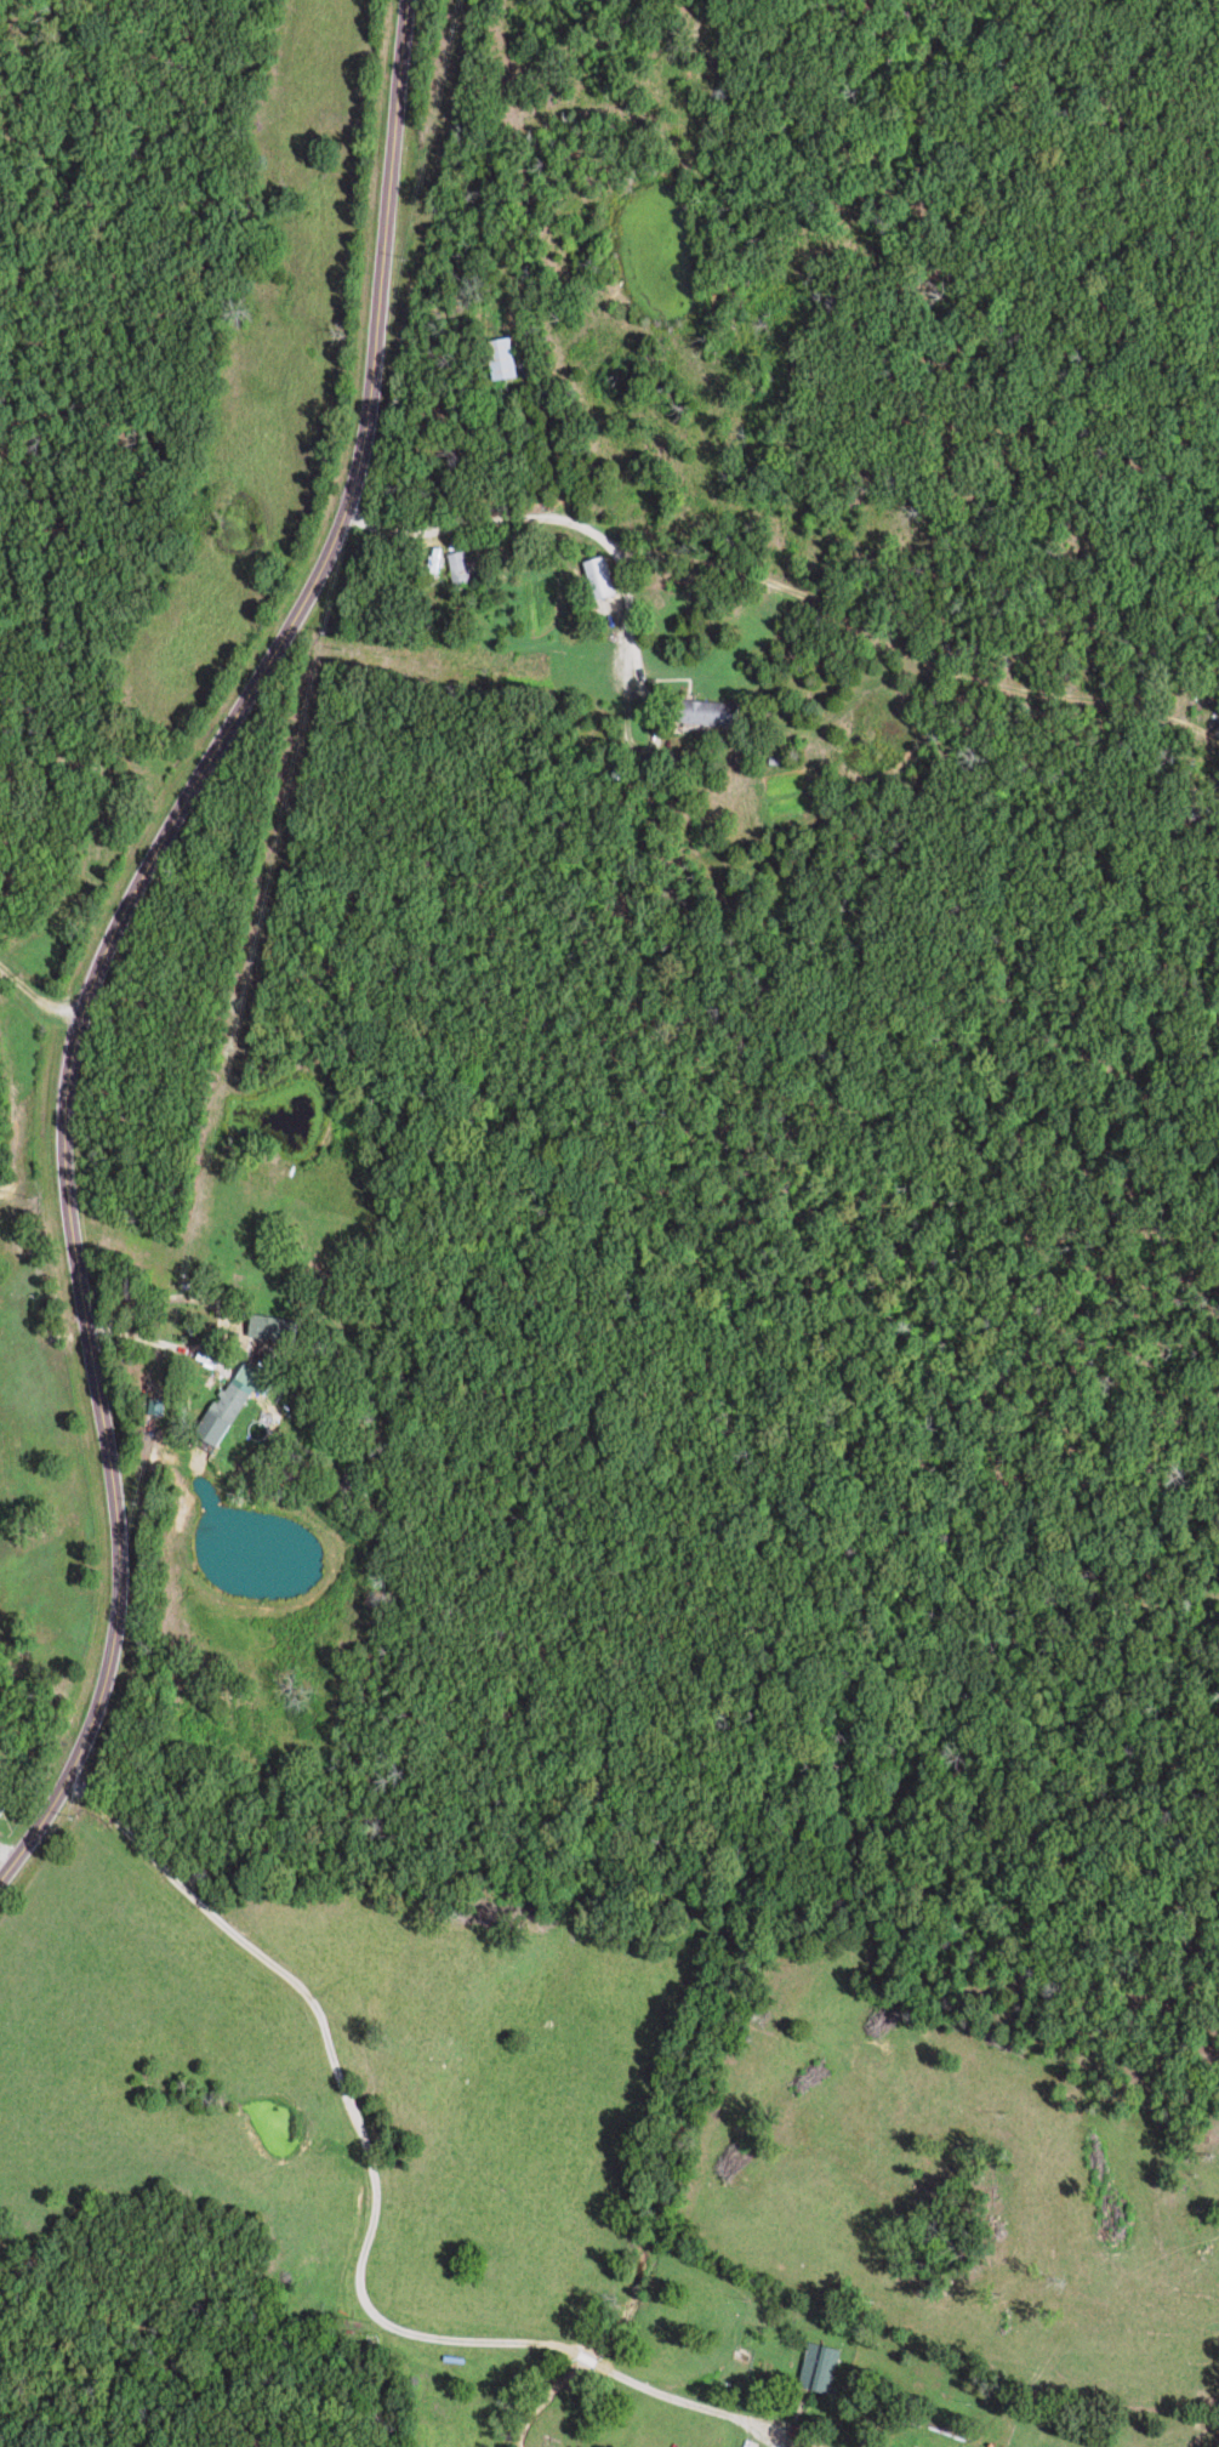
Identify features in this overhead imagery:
building: (507, 358)
building: (465, 568)
building: (604, 577)
building: (714, 713)
road: (116, 929)
building: (278, 1327)
building: (238, 1400)
building: (2, 1802)
building: (824, 2367)

